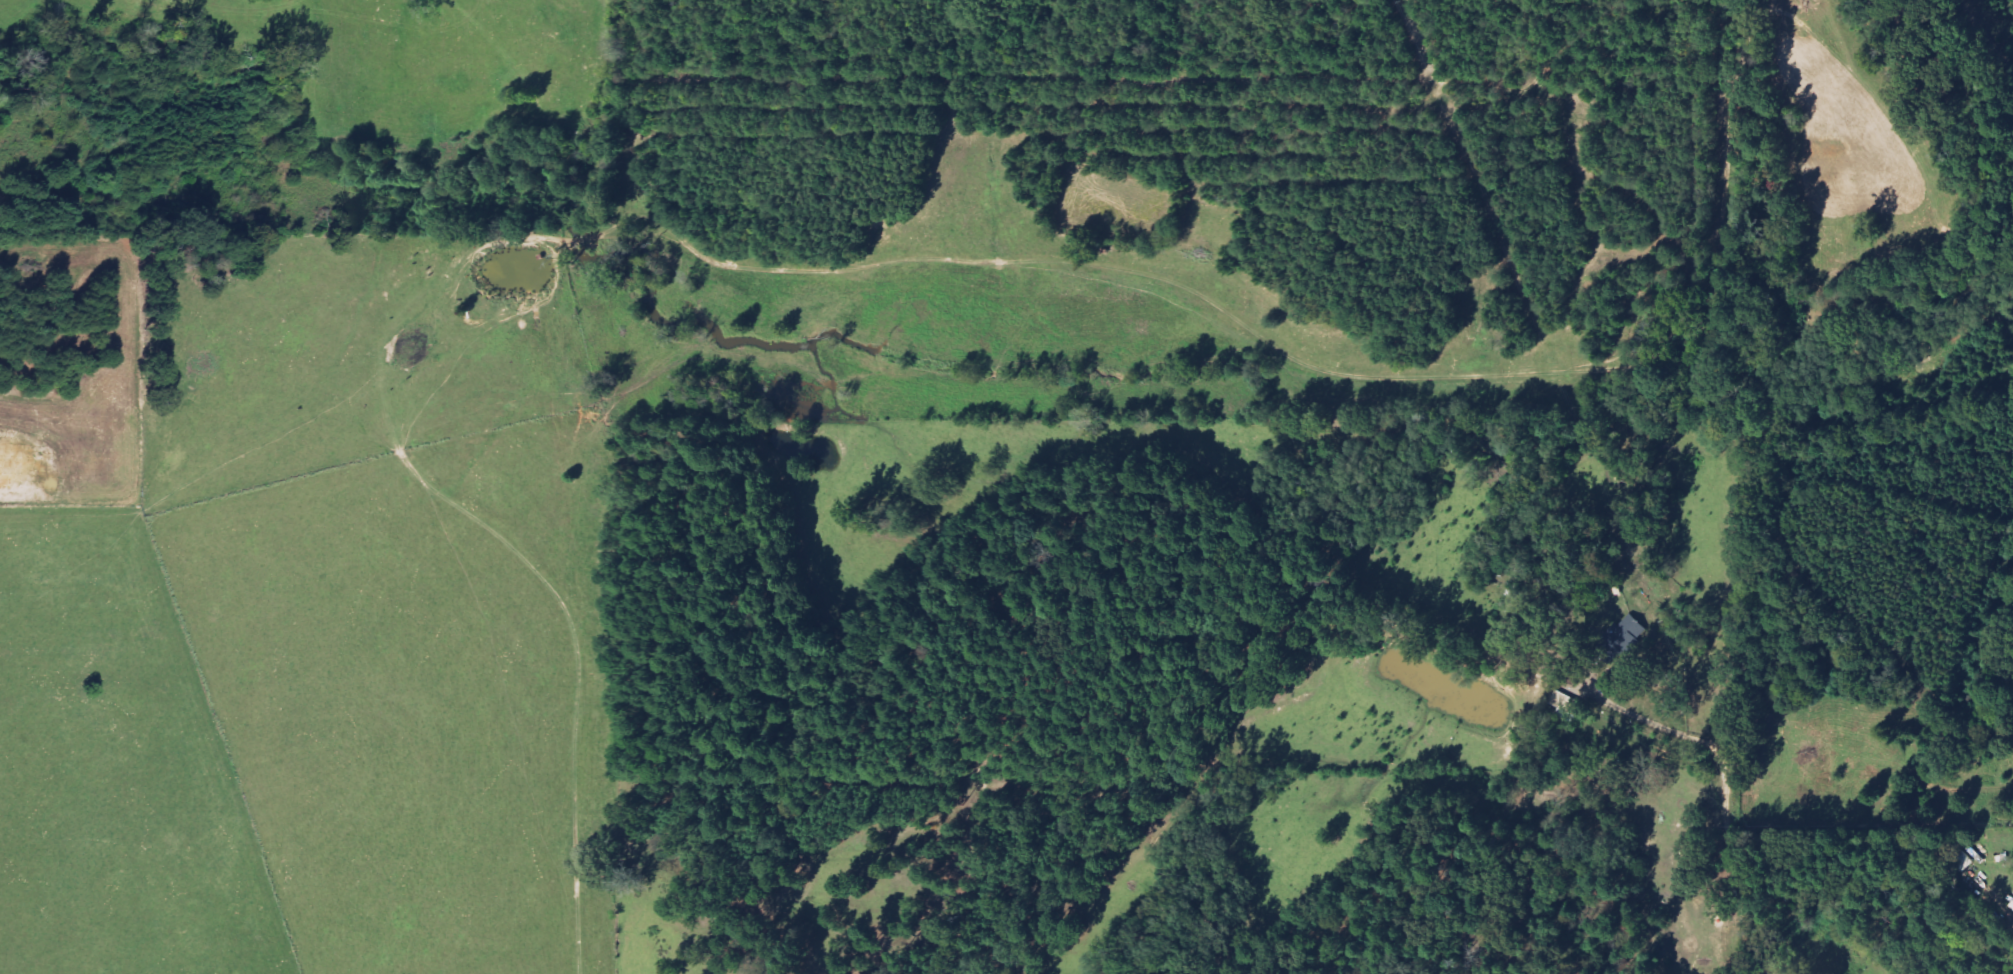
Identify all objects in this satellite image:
building: (1623, 637)
building: (1569, 706)
building: (2012, 908)

